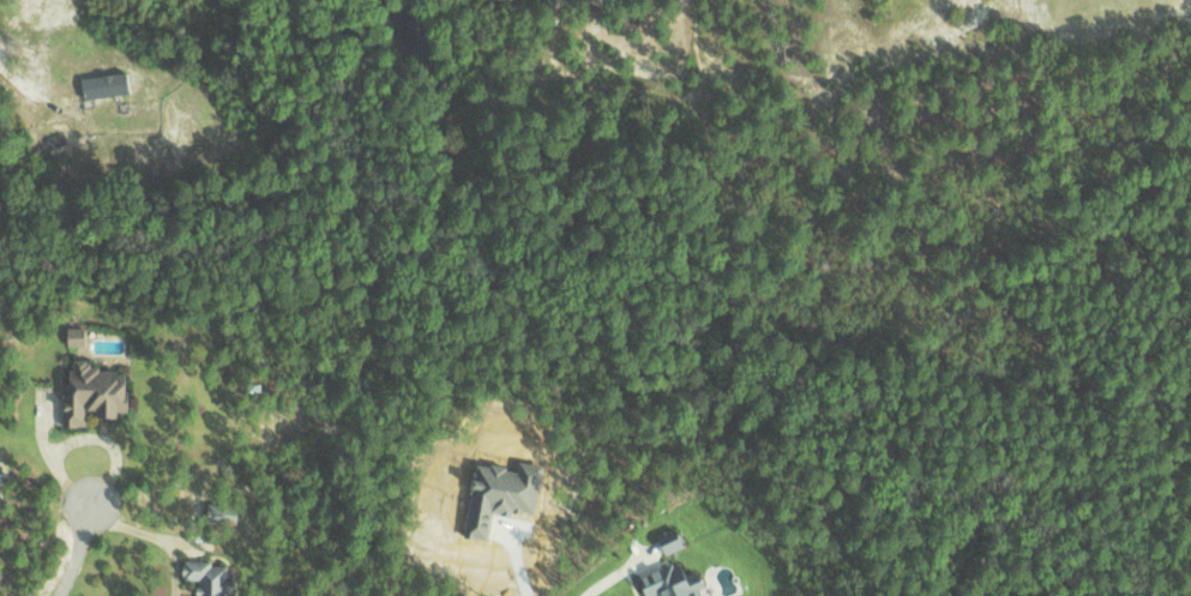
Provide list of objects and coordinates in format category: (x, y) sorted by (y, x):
building: (103, 85)
building: (73, 335)
building: (90, 392)
road: (84, 540)
building: (667, 540)
building: (206, 577)
building: (668, 582)

